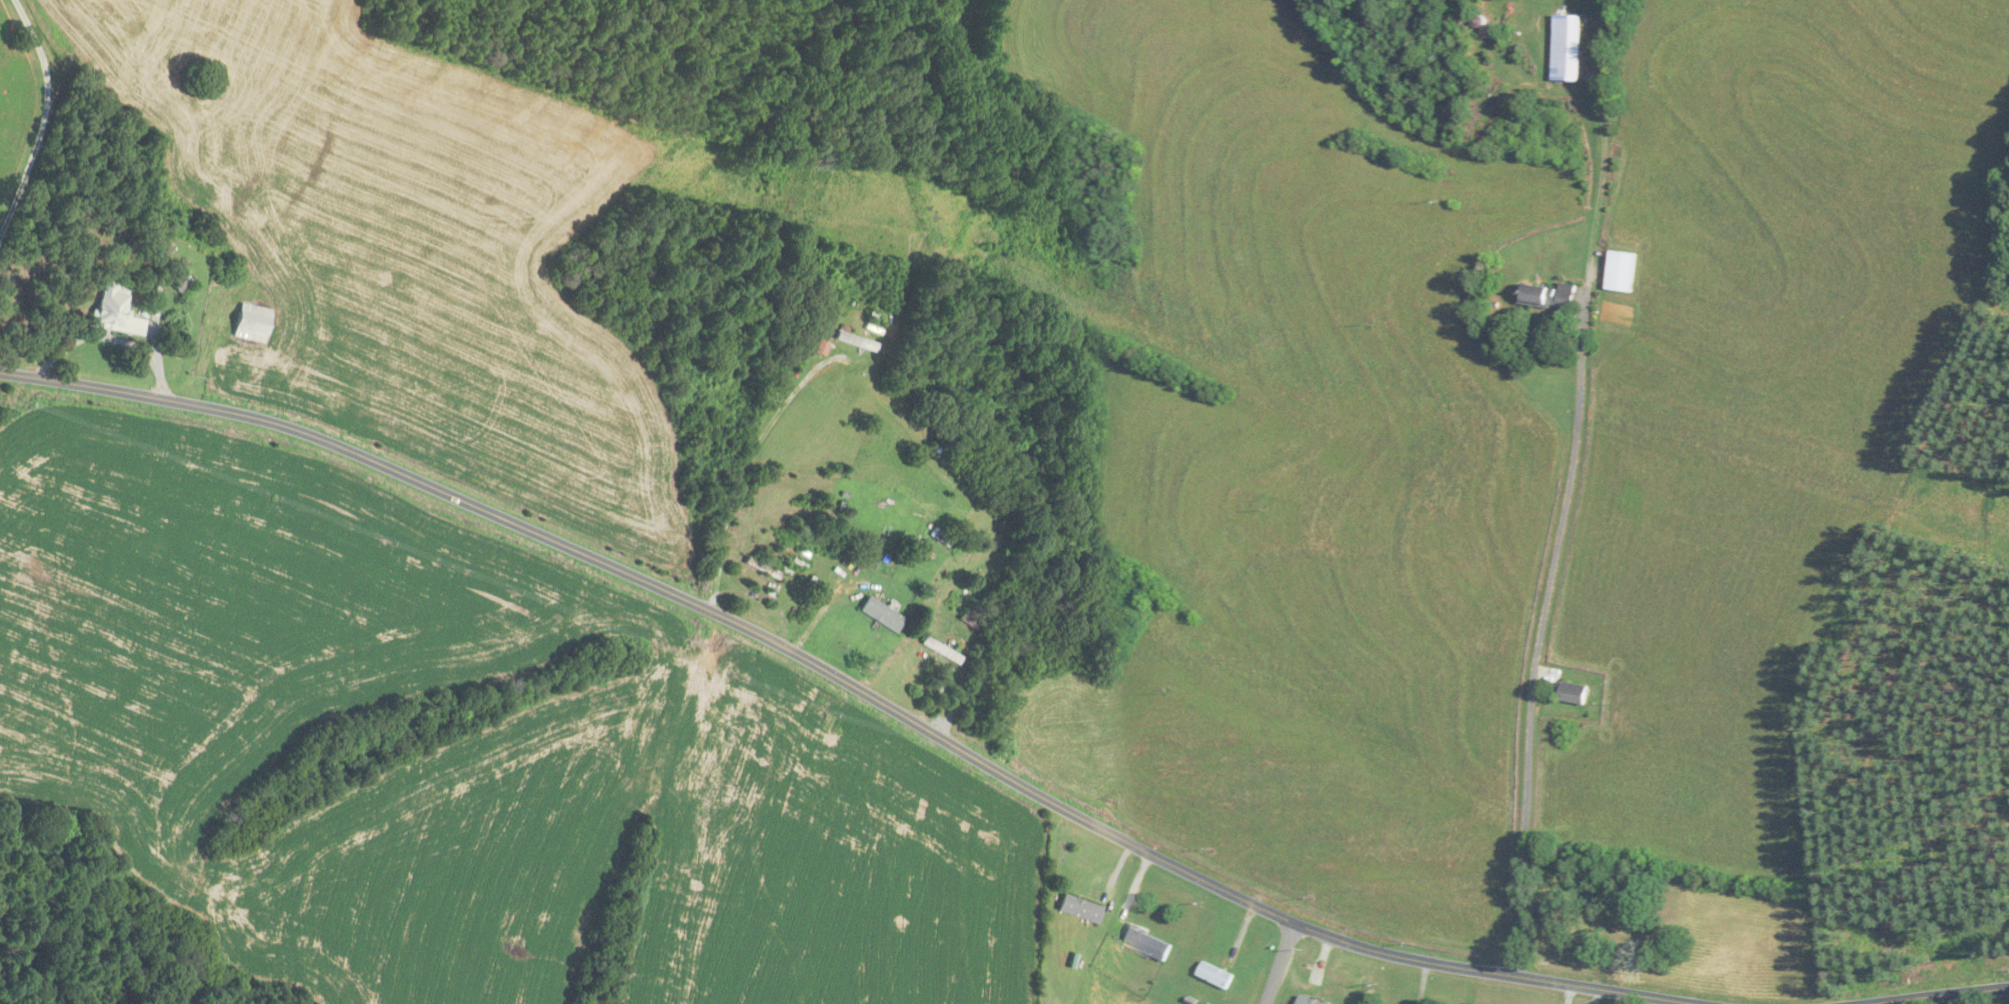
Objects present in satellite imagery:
building: (1567, 48)
road: (45, 117)
building: (1620, 272)
building: (1538, 296)
building: (1566, 296)
building: (114, 312)
building: (250, 323)
building: (854, 342)
building: (821, 349)
road: (743, 472)
building: (939, 538)
road: (1559, 539)
road: (824, 603)
building: (880, 615)
building: (970, 618)
building: (940, 651)
road: (850, 684)
building: (1572, 693)
building: (936, 694)
building: (1078, 909)
building: (1547, 916)
building: (1146, 942)
road: (1284, 964)
building: (1215, 975)
road: (1939, 995)
building: (1308, 1001)

